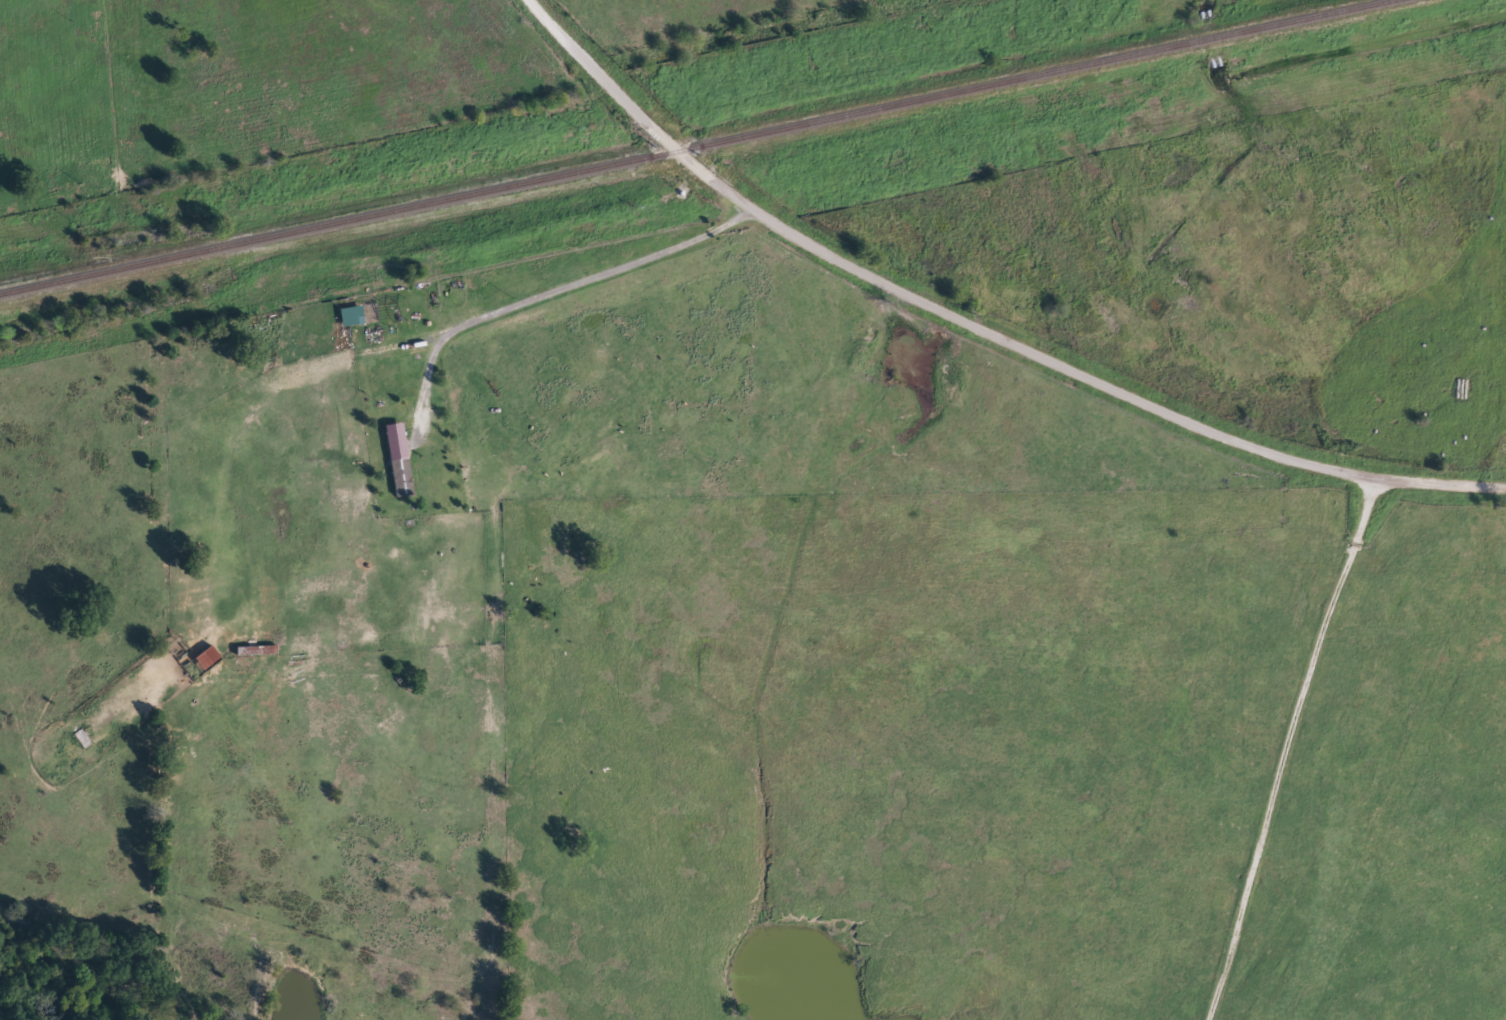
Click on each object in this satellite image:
railway: (699, 145)
building: (352, 317)
road: (973, 331)
building: (399, 461)
building: (207, 659)

